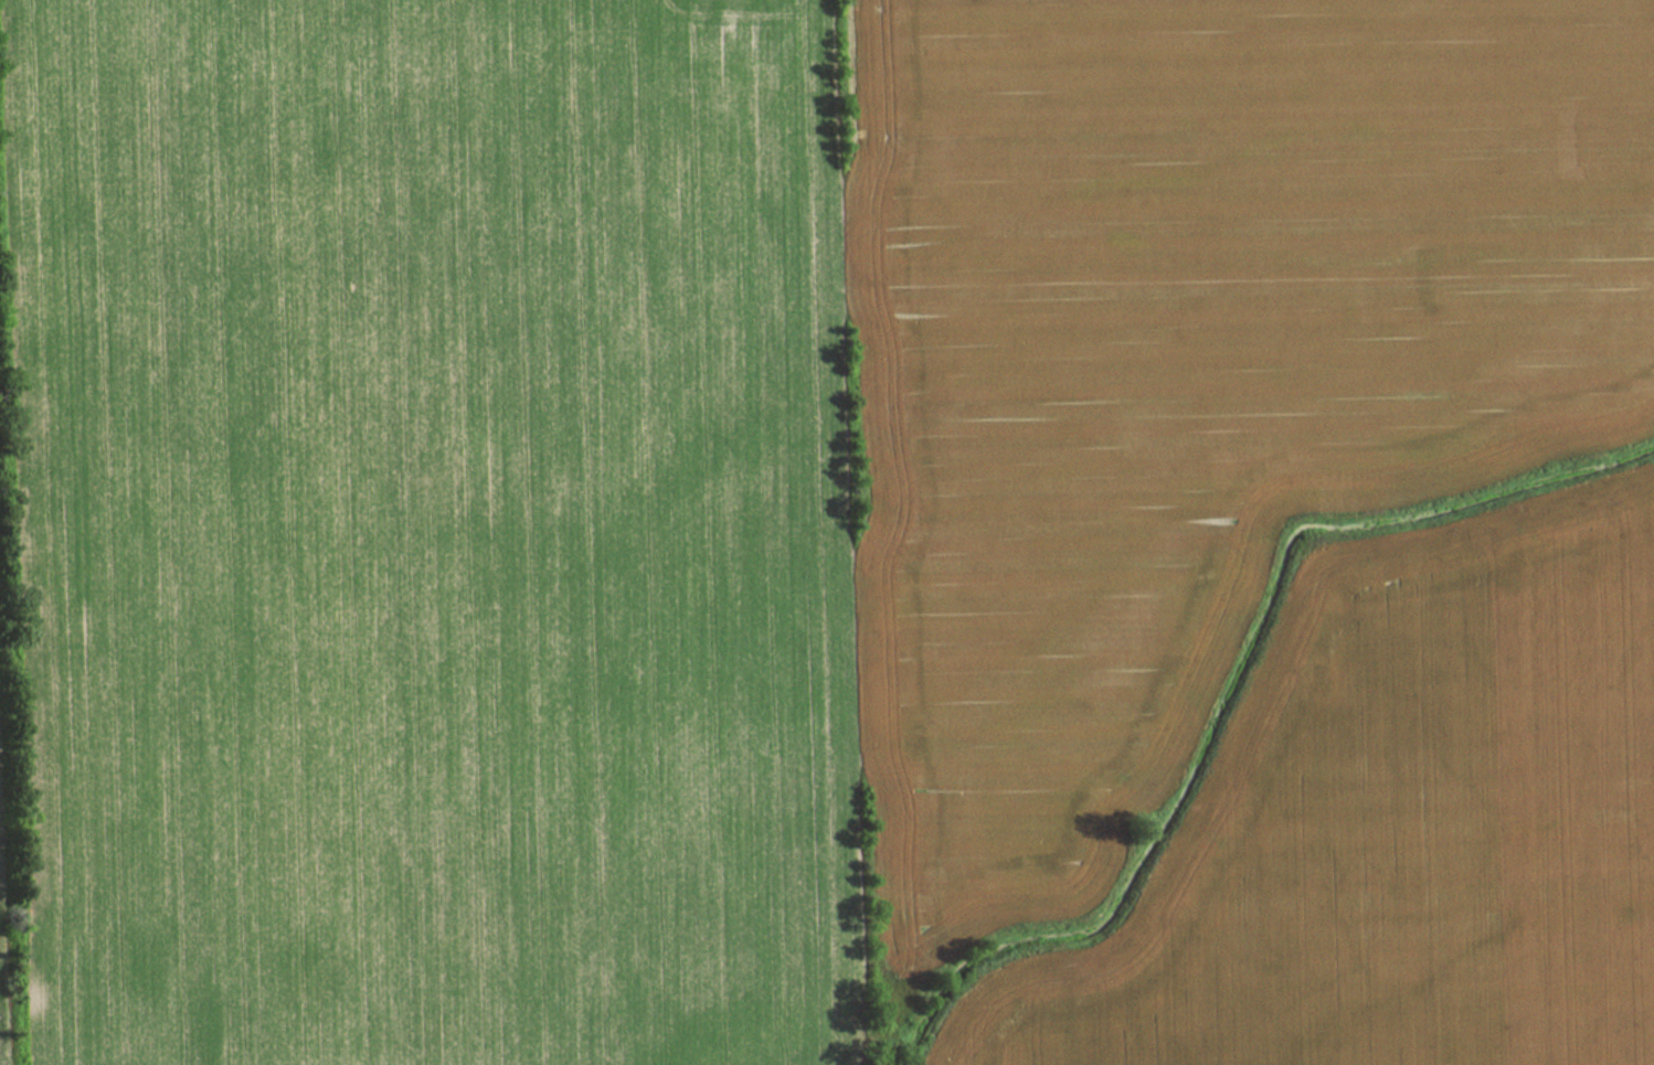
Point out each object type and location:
crop: (1190, 364)
crop: (435, 531)
crop: (1399, 831)
crop: (0, 1043)

